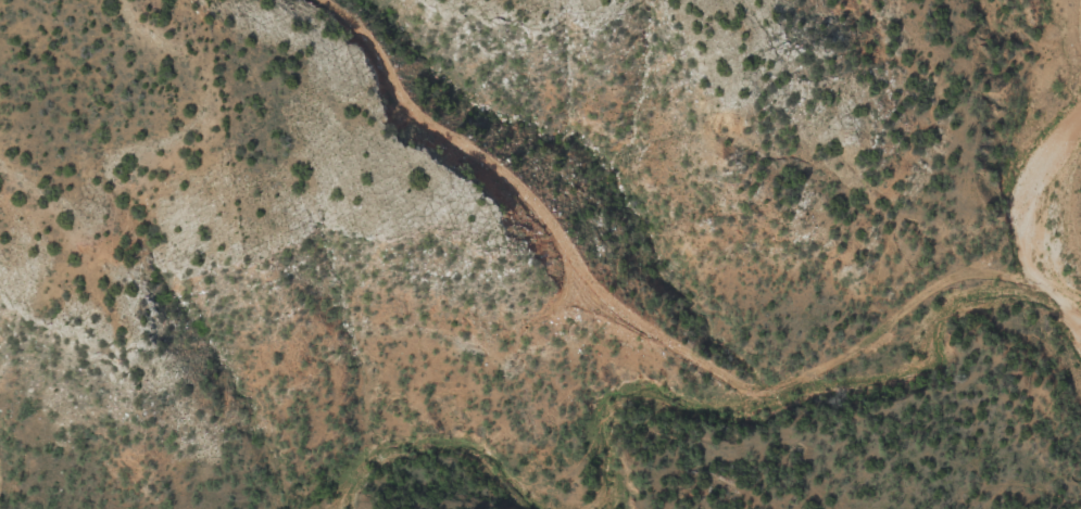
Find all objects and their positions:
road: (982, 247)

